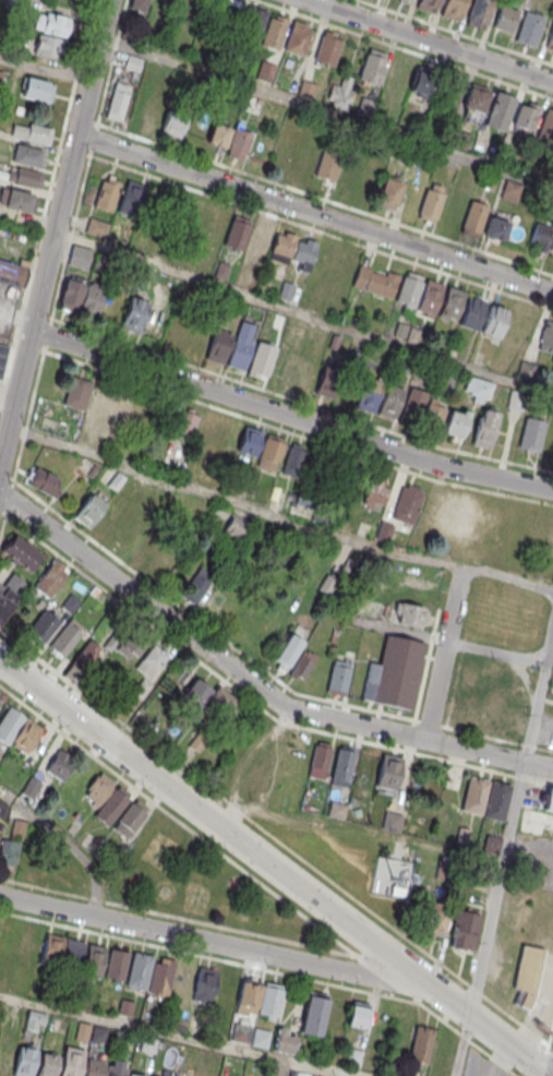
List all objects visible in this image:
building: (405, 1)
building: (139, 4)
building: (161, 4)
building: (428, 5)
building: (191, 9)
building: (452, 9)
building: (227, 13)
building: (479, 13)
building: (505, 20)
building: (51, 23)
building: (253, 23)
building: (529, 29)
building: (274, 32)
road: (456, 32)
building: (297, 38)
road: (430, 39)
building: (550, 40)
building: (49, 46)
building: (327, 48)
road: (406, 49)
building: (132, 63)
building: (371, 68)
road: (45, 69)
building: (265, 71)
building: (1, 74)
building: (397, 74)
building: (421, 84)
building: (305, 88)
building: (38, 89)
building: (340, 93)
building: (118, 100)
building: (474, 103)
building: (364, 106)
building: (500, 110)
road: (326, 113)
building: (154, 116)
building: (392, 116)
building: (525, 116)
building: (173, 121)
building: (546, 123)
building: (32, 133)
building: (218, 134)
building: (457, 139)
building: (238, 143)
building: (27, 155)
building: (327, 166)
building: (375, 168)
building: (347, 176)
building: (28, 177)
road: (265, 179)
building: (510, 191)
building: (388, 192)
building: (106, 193)
building: (131, 198)
building: (17, 200)
building: (431, 203)
road: (314, 214)
building: (194, 217)
building: (473, 217)
building: (96, 227)
building: (496, 228)
road: (53, 229)
road: (321, 230)
building: (236, 234)
building: (540, 236)
building: (256, 243)
building: (552, 247)
building: (280, 248)
building: (303, 252)
building: (79, 255)
building: (13, 272)
building: (374, 280)
building: (408, 289)
building: (81, 296)
building: (429, 296)
building: (450, 302)
building: (472, 312)
road: (16, 313)
building: (134, 313)
road: (302, 315)
building: (494, 322)
building: (177, 333)
building: (546, 336)
building: (218, 346)
building: (240, 346)
building: (2, 355)
building: (261, 359)
building: (302, 375)
building: (327, 383)
building: (477, 390)
building: (75, 394)
building: (368, 395)
building: (98, 396)
building: (516, 399)
building: (389, 403)
building: (412, 407)
building: (118, 414)
building: (143, 414)
road: (288, 418)
building: (41, 420)
building: (187, 421)
building: (455, 422)
building: (206, 427)
building: (483, 429)
building: (531, 434)
building: (248, 442)
building: (271, 454)
building: (293, 463)
building: (41, 483)
building: (375, 492)
building: (407, 503)
building: (88, 510)
building: (456, 514)
road: (277, 516)
building: (110, 522)
building: (235, 526)
building: (534, 528)
building: (384, 531)
building: (133, 539)
building: (21, 552)
building: (51, 578)
building: (197, 585)
building: (326, 585)
building: (9, 594)
building: (409, 614)
building: (43, 626)
building: (65, 638)
building: (137, 649)
building: (287, 651)
road: (495, 653)
road: (442, 654)
building: (82, 662)
building: (302, 665)
building: (394, 672)
parking lot: (552, 673)
road: (524, 681)
road: (252, 683)
building: (337, 684)
road: (538, 695)
building: (208, 698)
parking lot: (545, 728)
building: (17, 730)
building: (318, 760)
building: (60, 764)
building: (341, 765)
building: (364, 766)
building: (387, 773)
road: (271, 779)
road: (540, 781)
building: (474, 794)
building: (106, 798)
road: (13, 799)
building: (496, 800)
building: (549, 801)
building: (3, 805)
building: (130, 817)
building: (392, 822)
building: (9, 851)
road: (77, 854)
road: (274, 868)
building: (392, 877)
park: (200, 885)
road: (495, 889)
road: (288, 904)
building: (434, 920)
building: (465, 930)
road: (406, 937)
road: (218, 944)
building: (51, 951)
building: (27, 952)
road: (208, 956)
building: (93, 960)
building: (116, 966)
building: (139, 972)
building: (3, 977)
building: (160, 977)
building: (526, 977)
building: (181, 982)
building: (204, 987)
building: (247, 1000)
building: (269, 1001)
building: (358, 1015)
building: (13, 1016)
building: (312, 1017)
building: (35, 1020)
building: (241, 1032)
road: (177, 1037)
building: (260, 1038)
building: (285, 1041)
building: (148, 1043)
building: (420, 1044)
road: (462, 1045)
building: (353, 1057)
building: (5, 1059)
building: (24, 1061)
building: (71, 1061)
building: (47, 1064)
building: (94, 1068)
building: (116, 1072)
building: (132, 1075)

